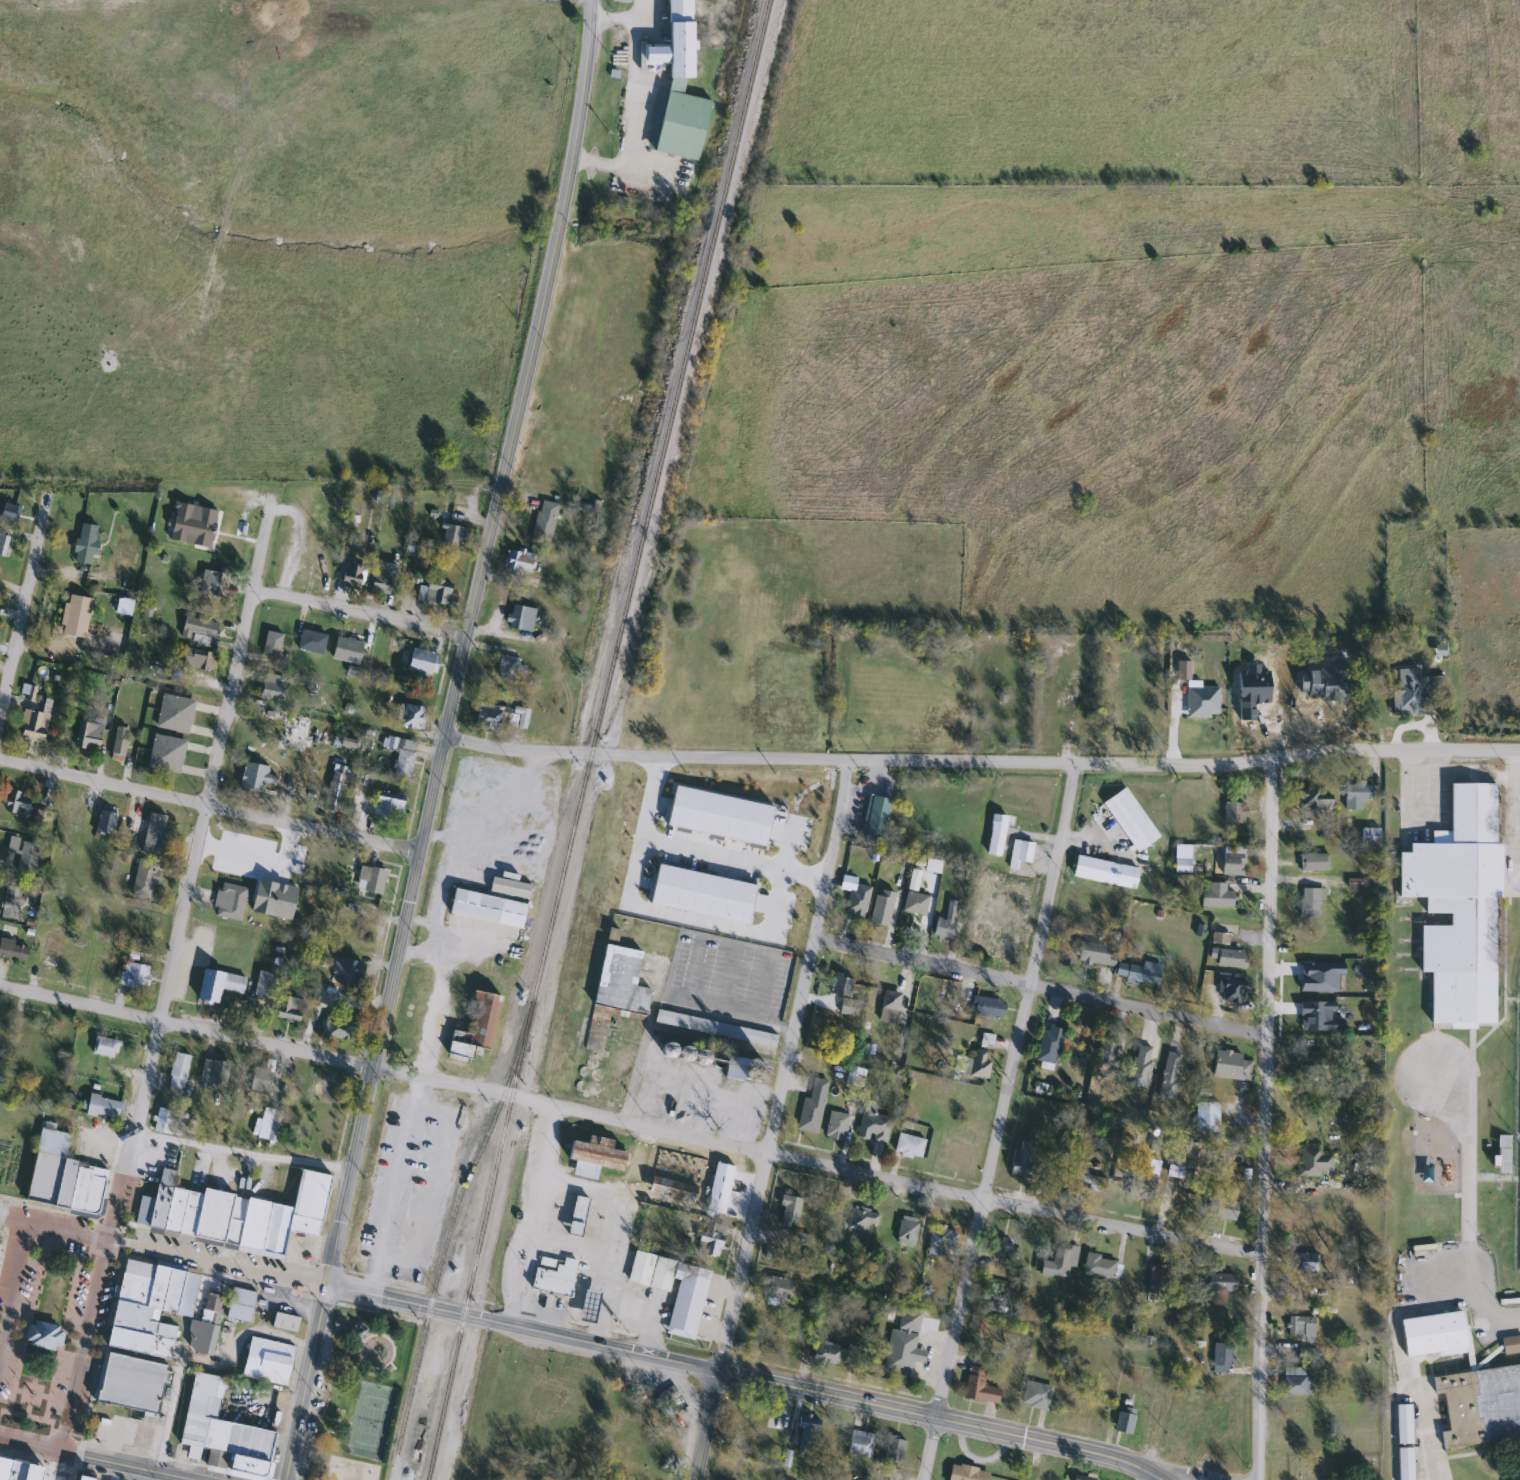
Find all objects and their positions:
building: (620, 0)
building: (675, 89)
road: (626, 98)
building: (383, 499)
railway: (650, 504)
building: (6, 512)
building: (448, 515)
building: (544, 521)
building: (181, 523)
building: (449, 535)
building: (85, 543)
building: (3, 545)
building: (517, 560)
building: (321, 569)
building: (351, 574)
building: (383, 574)
building: (678, 574)
building: (213, 584)
building: (432, 593)
road: (24, 600)
road: (359, 612)
building: (74, 616)
building: (519, 618)
building: (198, 630)
building: (310, 641)
building: (271, 643)
road: (464, 644)
building: (394, 648)
building: (346, 650)
building: (194, 659)
building: (420, 661)
building: (510, 668)
building: (270, 689)
building: (174, 714)
building: (411, 717)
building: (501, 717)
building: (31, 727)
building: (296, 730)
building: (87, 736)
building: (318, 738)
building: (118, 744)
building: (166, 754)
road: (515, 755)
building: (401, 756)
road: (1055, 763)
building: (252, 779)
road: (1433, 786)
building: (334, 789)
building: (1356, 795)
building: (1314, 799)
building: (16, 802)
road: (209, 805)
building: (387, 805)
building: (1234, 812)
building: (72, 814)
building: (42, 816)
building: (874, 817)
road: (201, 819)
building: (1130, 819)
road: (1515, 820)
building: (105, 821)
building: (643, 824)
building: (153, 834)
building: (995, 834)
building: (1369, 835)
road: (444, 836)
road: (689, 851)
building: (1020, 851)
road: (781, 852)
building: (26, 859)
road: (259, 861)
building: (1232, 861)
building: (1313, 861)
building: (1104, 871)
building: (144, 878)
building: (373, 881)
building: (1216, 894)
road: (439, 898)
building: (228, 900)
building: (11, 901)
building: (915, 902)
building: (1309, 902)
building: (855, 905)
building: (881, 906)
building: (1456, 906)
building: (486, 907)
road: (419, 920)
road: (693, 920)
building: (945, 922)
building: (615, 924)
building: (361, 931)
building: (13, 949)
building: (50, 949)
road: (415, 949)
building: (1095, 953)
building: (1227, 958)
building: (105, 966)
building: (348, 971)
building: (1138, 972)
building: (134, 975)
building: (619, 981)
building: (217, 984)
building: (265, 985)
building: (840, 985)
road: (1040, 987)
building: (1231, 990)
building: (888, 1006)
building: (986, 1007)
building: (290, 1008)
building: (848, 1008)
road: (730, 1010)
building: (476, 1027)
building: (338, 1028)
building: (715, 1028)
building: (986, 1040)
road: (256, 1041)
building: (105, 1046)
building: (1048, 1047)
building: (976, 1065)
building: (1226, 1065)
road: (785, 1066)
building: (733, 1067)
building: (1140, 1067)
building: (1311, 1067)
building: (213, 1072)
building: (176, 1073)
building: (1169, 1074)
track: (1518, 1076)
building: (260, 1078)
building: (325, 1091)
building: (812, 1104)
building: (101, 1105)
building: (743, 1110)
building: (1206, 1116)
road: (1263, 1118)
building: (163, 1120)
road: (998, 1122)
building: (268, 1124)
building: (836, 1125)
building: (873, 1127)
building: (908, 1146)
road: (240, 1149)
building: (594, 1155)
building: (1185, 1156)
building: (1023, 1161)
building: (1314, 1161)
building: (1425, 1173)
building: (63, 1174)
building: (375, 1175)
road: (885, 1178)
building: (1087, 1183)
building: (418, 1186)
building: (719, 1187)
building: (671, 1188)
building: (444, 1189)
road: (617, 1193)
building: (1222, 1208)
building: (789, 1210)
building: (231, 1213)
road: (526, 1215)
building: (577, 1216)
building: (860, 1219)
road: (1462, 1219)
building: (711, 1239)
building: (800, 1239)
railway: (447, 1240)
building: (942, 1241)
railway: (479, 1244)
road: (569, 1245)
road: (161, 1249)
building: (1003, 1251)
building: (1058, 1259)
building: (1305, 1261)
building: (1099, 1266)
road: (613, 1271)
road: (11, 1272)
building: (555, 1279)
building: (1221, 1282)
building: (1157, 1283)
building: (777, 1288)
road: (392, 1301)
building: (149, 1304)
building: (239, 1304)
building: (588, 1306)
building: (684, 1312)
building: (210, 1316)
building: (284, 1322)
building: (1300, 1326)
building: (1431, 1333)
building: (903, 1343)
road: (85, 1344)
road: (589, 1344)
building: (1511, 1345)
building: (836, 1351)
road: (1392, 1355)
building: (1222, 1357)
building: (266, 1361)
building: (1295, 1381)
road: (301, 1382)
building: (130, 1383)
building: (978, 1387)
park: (358, 1393)
building: (1035, 1395)
building: (1477, 1404)
road: (932, 1416)
park: (370, 1420)
building: (1120, 1421)
road: (703, 1426)
building: (221, 1432)
building: (807, 1435)
building: (860, 1444)
building: (893, 1450)
road: (96, 1459)
road: (60, 1466)
park: (1334, 1467)
park: (350, 1469)
building: (18, 1470)
building: (965, 1473)
road: (1182, 1473)
road: (1145, 1474)
road: (1155, 1474)
building: (83, 1478)
building: (1082, 1478)

